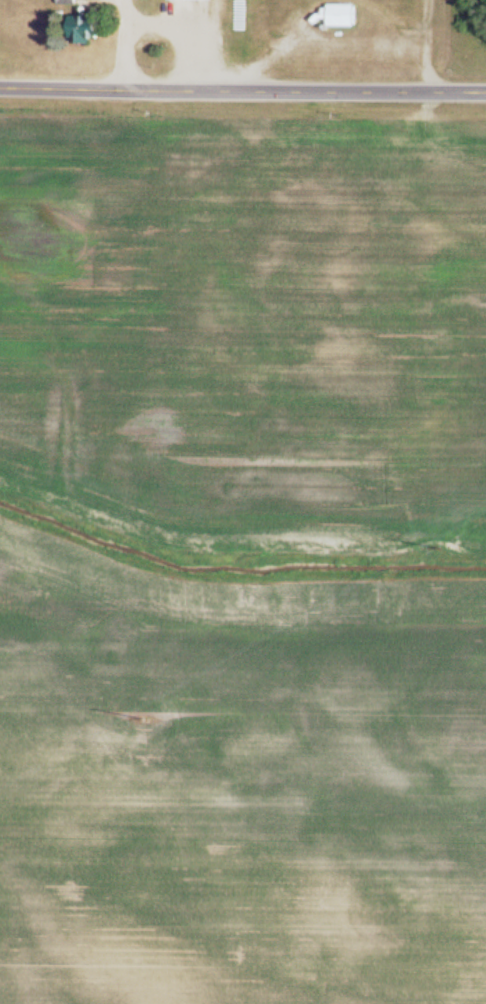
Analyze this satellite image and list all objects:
building: (194, 1)
building: (72, 3)
building: (346, 17)
building: (92, 30)
road: (242, 93)

